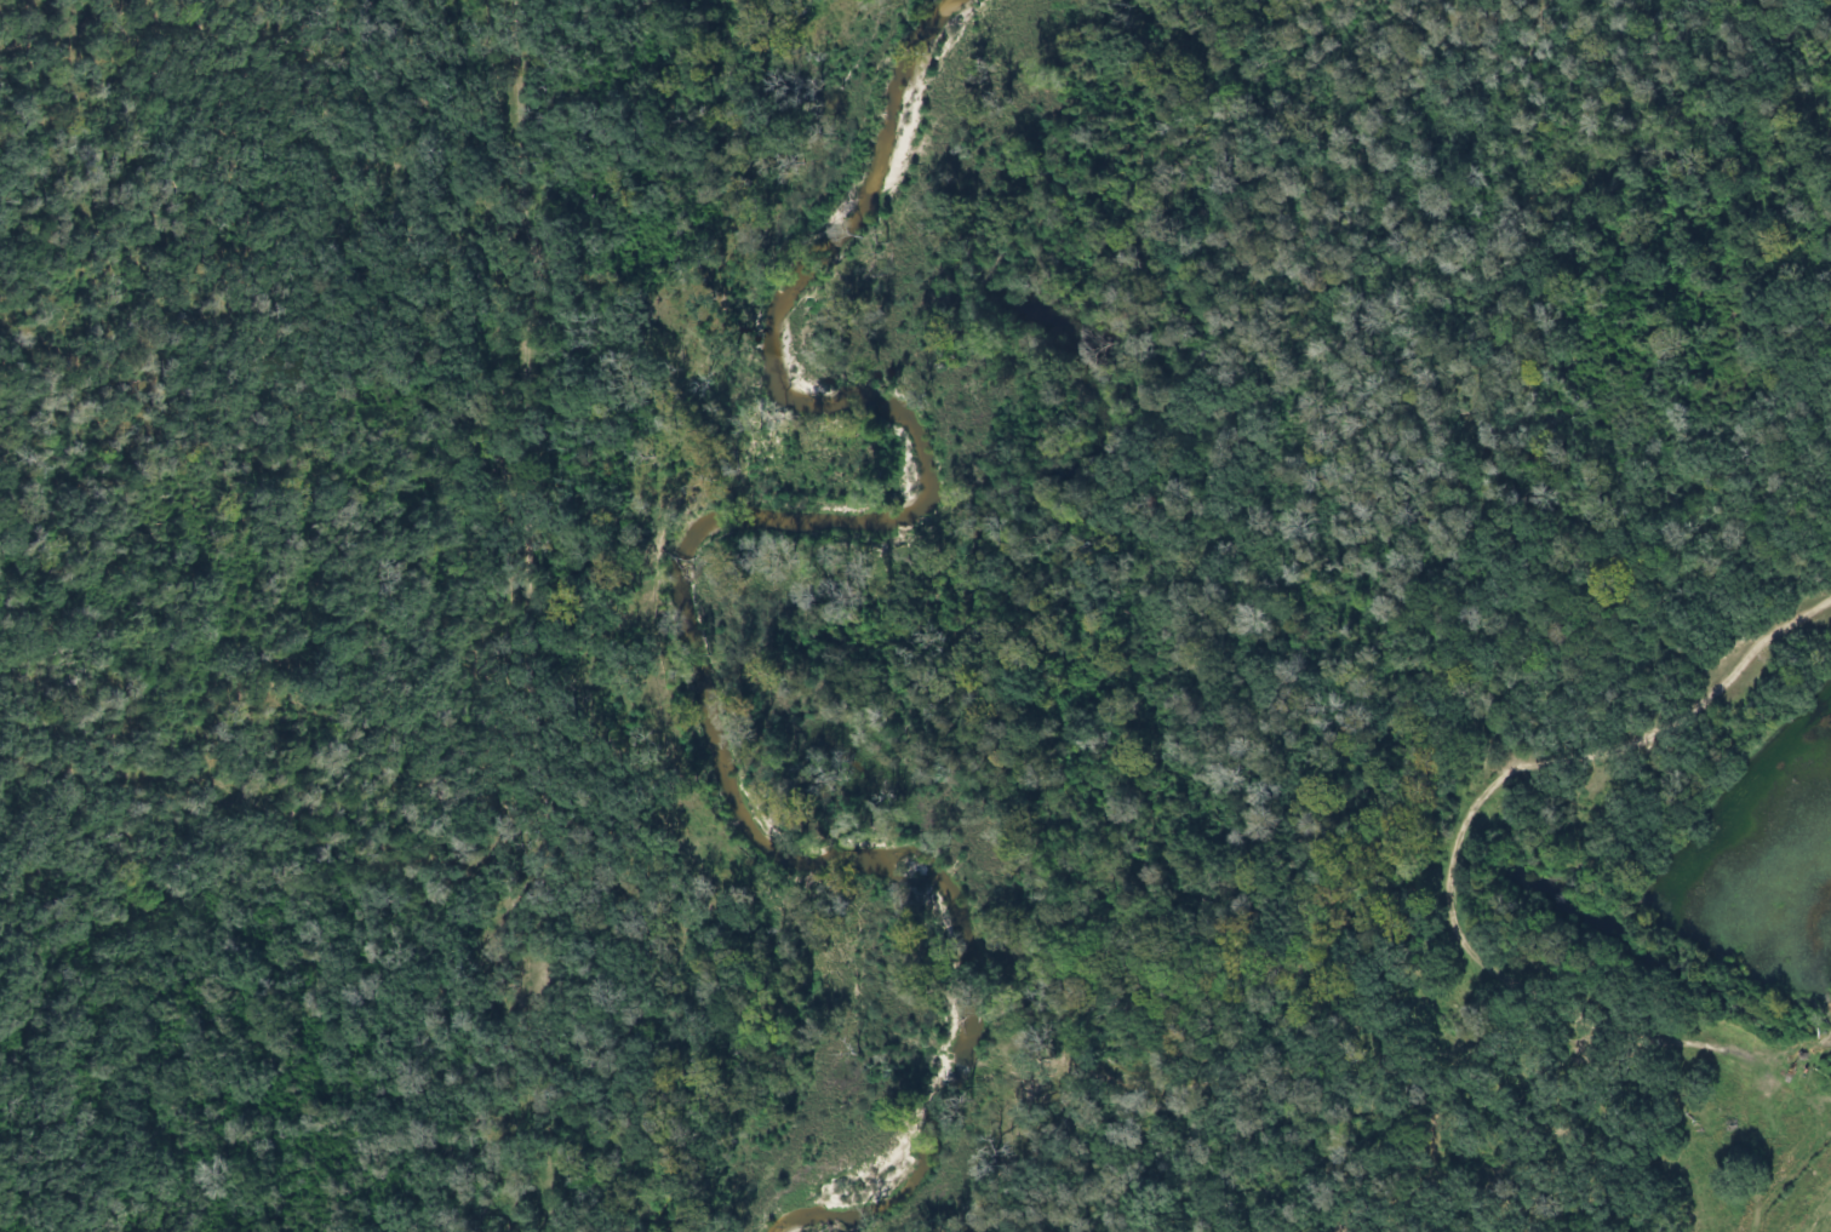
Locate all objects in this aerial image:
road: (1504, 918)

